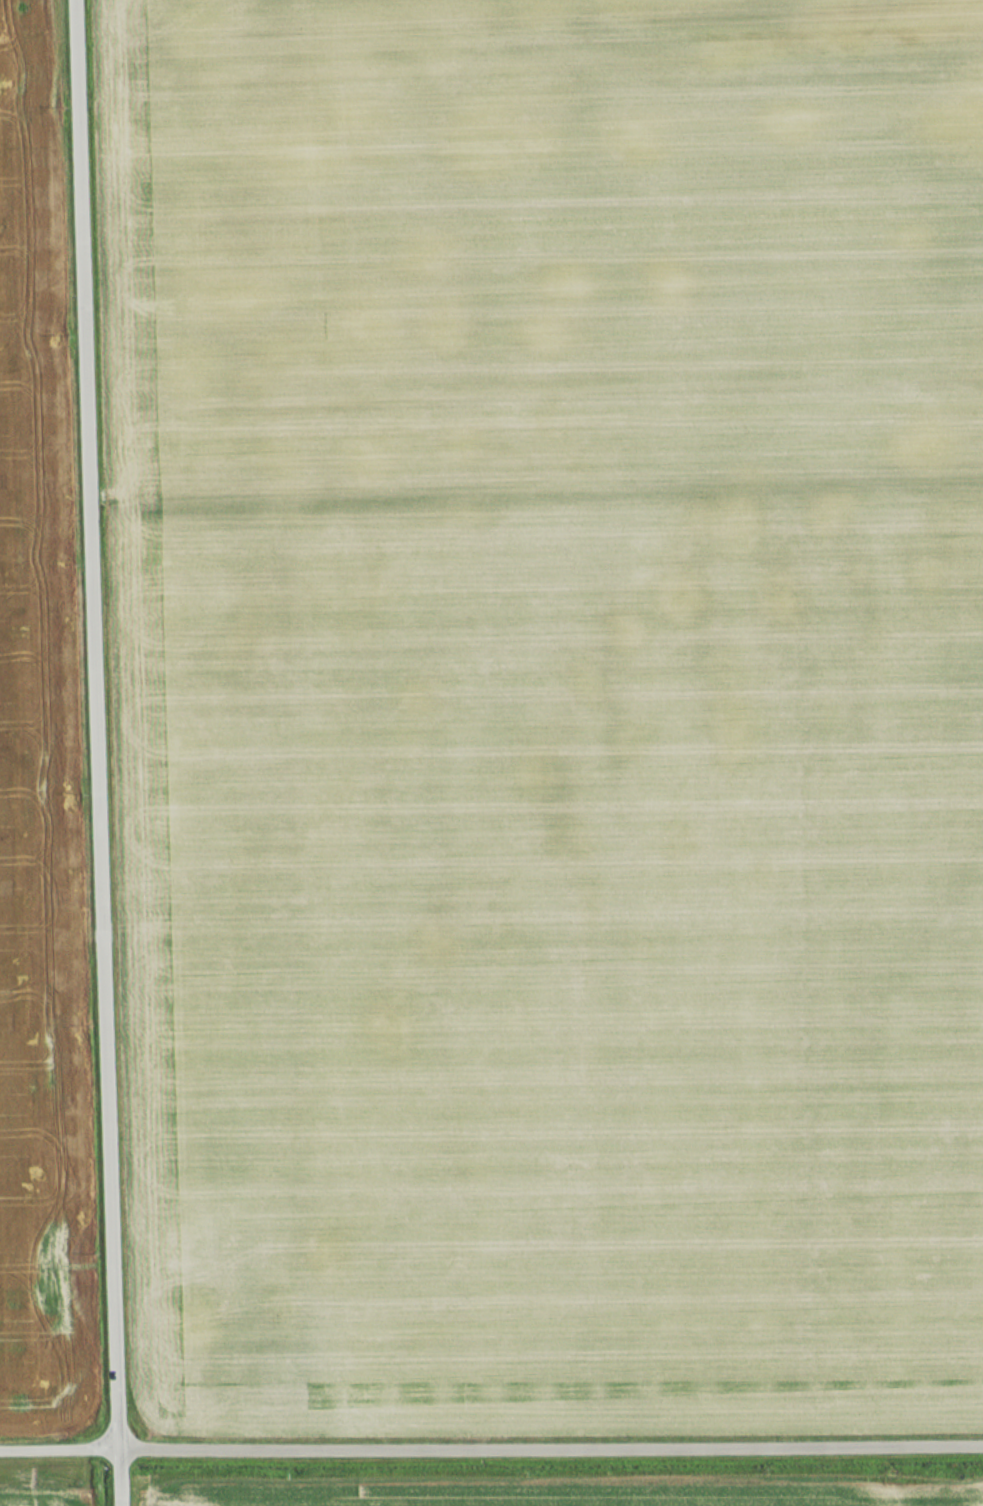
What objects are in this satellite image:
crop: (545, 711)
road: (99, 752)
crop: (39, 781)
road: (491, 1451)
crop: (41, 1497)
crop: (979, 1502)
crop: (864, 1503)

